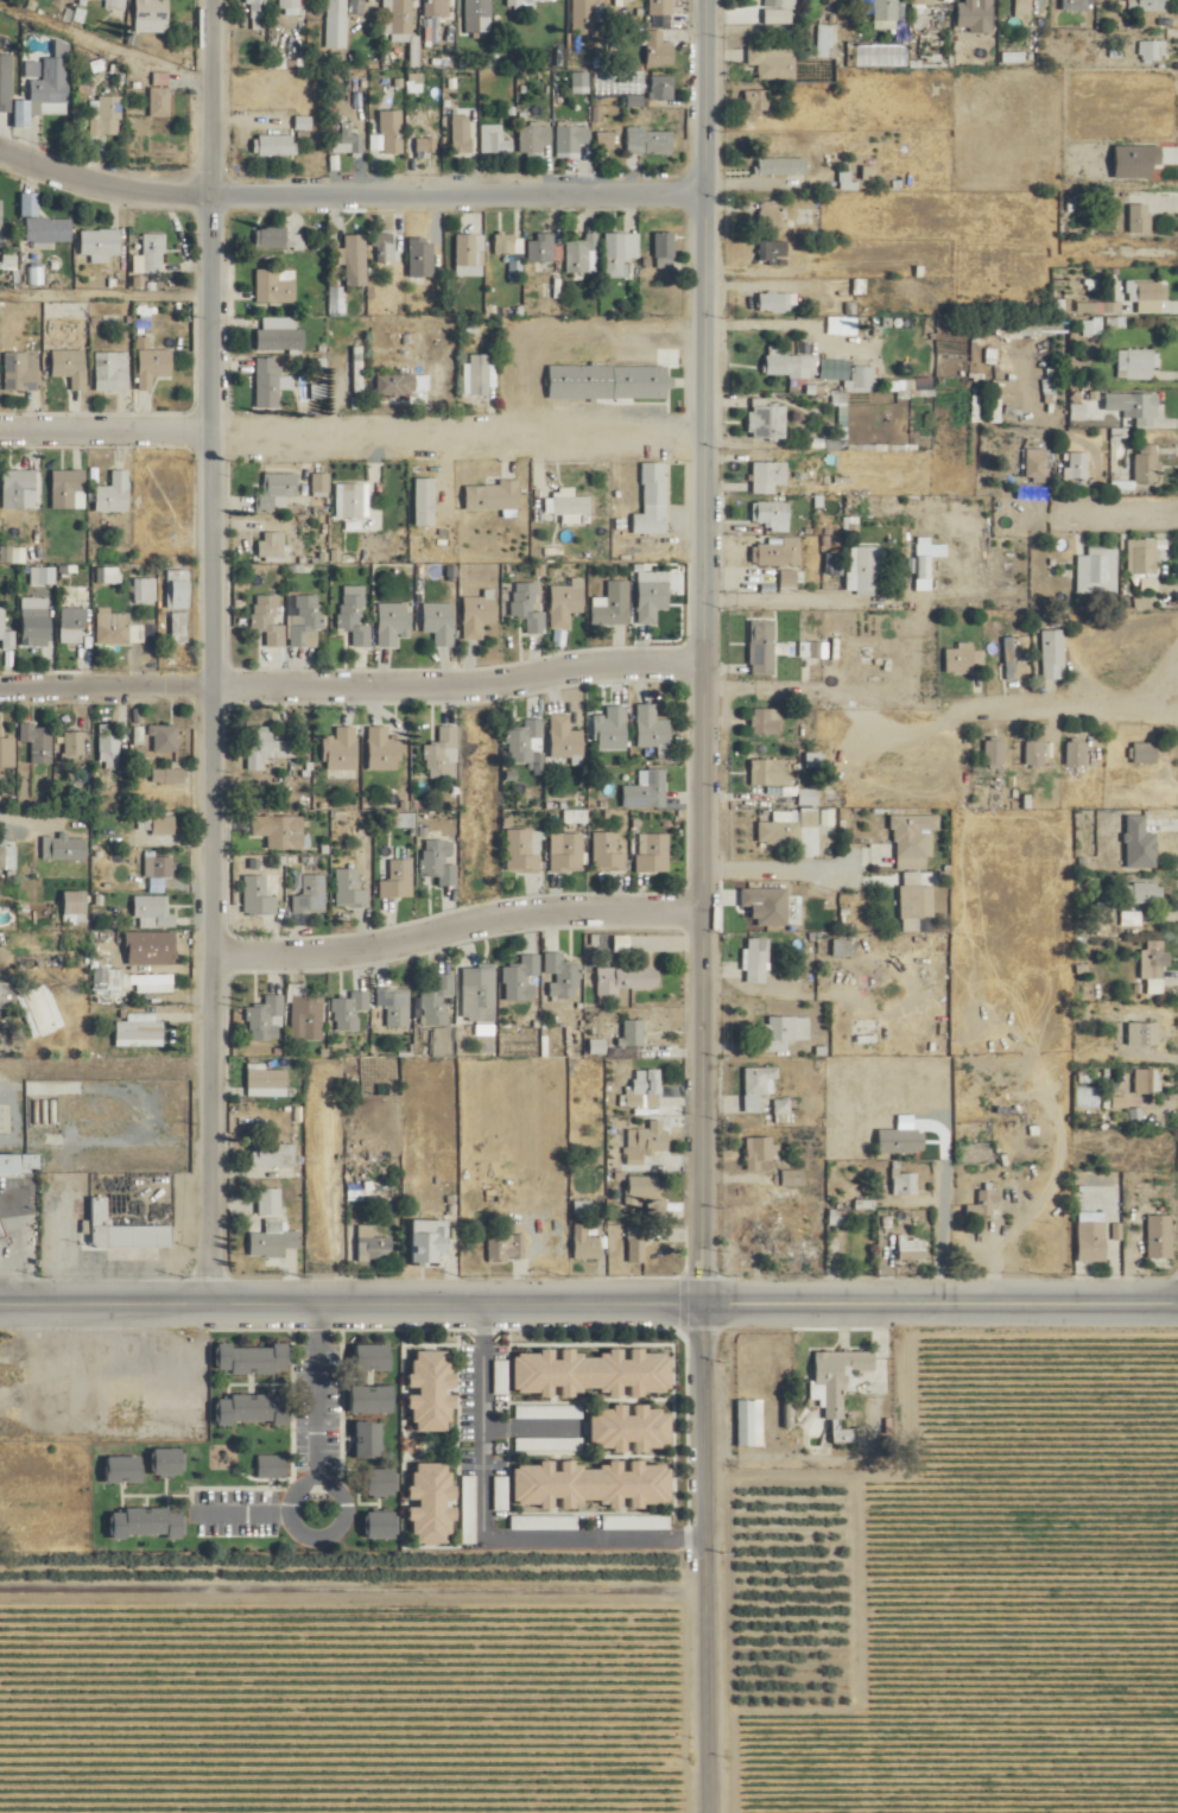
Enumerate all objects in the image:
building: (625, 0)
building: (528, 2)
building: (924, 2)
building: (1024, 2)
building: (780, 4)
building: (108, 5)
building: (1145, 5)
building: (661, 7)
building: (255, 8)
building: (338, 8)
building: (437, 8)
building: (885, 14)
building: (152, 15)
building: (395, 15)
building: (479, 15)
building: (588, 17)
building: (659, 50)
building: (1153, 51)
building: (773, 62)
building: (582, 80)
building: (52, 88)
building: (661, 88)
building: (756, 100)
building: (161, 102)
building: (108, 118)
building: (391, 132)
building: (462, 134)
building: (536, 138)
building: (572, 139)
building: (495, 140)
building: (604, 140)
building: (347, 141)
building: (650, 141)
building: (426, 145)
building: (273, 146)
building: (781, 166)
building: (847, 179)
road: (347, 184)
building: (771, 214)
building: (1, 215)
building: (1140, 218)
building: (50, 229)
building: (280, 239)
building: (505, 243)
building: (101, 245)
building: (541, 247)
building: (384, 248)
building: (665, 249)
building: (773, 253)
building: (470, 254)
building: (583, 254)
building: (152, 255)
building: (615, 255)
building: (420, 256)
building: (355, 260)
building: (277, 286)
building: (1142, 291)
building: (778, 303)
road: (786, 323)
building: (1092, 327)
building: (1019, 331)
building: (280, 335)
building: (790, 362)
building: (1136, 364)
building: (153, 366)
building: (70, 367)
building: (359, 369)
building: (112, 370)
building: (21, 372)
building: (480, 375)
building: (641, 382)
building: (273, 385)
building: (404, 385)
building: (318, 392)
building: (1129, 407)
building: (766, 420)
road: (349, 424)
building: (1035, 464)
building: (1077, 465)
building: (1141, 469)
building: (768, 477)
building: (322, 483)
building: (20, 489)
building: (69, 489)
building: (275, 492)
building: (114, 494)
building: (493, 496)
building: (353, 501)
building: (653, 501)
building: (425, 502)
building: (571, 505)
road: (1114, 509)
building: (771, 515)
building: (272, 546)
building: (778, 552)
building: (1146, 557)
building: (1102, 566)
building: (866, 568)
building: (44, 576)
building: (179, 589)
building: (146, 590)
building: (652, 595)
road: (773, 598)
building: (565, 603)
building: (613, 606)
building: (528, 607)
building: (355, 615)
building: (477, 615)
building: (270, 619)
building: (306, 620)
building: (34, 621)
building: (438, 622)
building: (393, 623)
building: (179, 627)
building: (72, 629)
building: (119, 629)
building: (6, 630)
road: (207, 645)
road: (698, 646)
building: (762, 647)
building: (1053, 654)
building: (1008, 657)
building: (964, 660)
road: (349, 677)
road: (936, 705)
building: (765, 721)
building: (652, 728)
building: (610, 729)
building: (164, 737)
building: (564, 737)
building: (39, 741)
building: (525, 741)
building: (109, 744)
building: (75, 746)
building: (267, 747)
building: (7, 749)
building: (338, 749)
building: (384, 749)
building: (994, 752)
building: (1034, 752)
building: (1145, 752)
building: (443, 754)
building: (1076, 754)
building: (768, 772)
building: (169, 775)
building: (646, 790)
building: (807, 795)
building: (157, 825)
road: (30, 829)
building: (277, 830)
building: (778, 833)
building: (913, 841)
building: (524, 850)
building: (653, 852)
building: (569, 854)
building: (607, 854)
building: (8, 856)
building: (441, 862)
building: (161, 867)
road: (774, 867)
building: (399, 880)
building: (350, 890)
building: (1145, 893)
building: (311, 895)
building: (259, 896)
building: (917, 902)
building: (72, 904)
building: (153, 913)
road: (451, 915)
building: (148, 943)
building: (758, 961)
building: (1153, 974)
building: (563, 977)
building: (522, 978)
building: (150, 980)
building: (625, 980)
building: (480, 993)
building: (6, 994)
building: (438, 1000)
building: (395, 1006)
building: (40, 1010)
building: (350, 1010)
building: (308, 1018)
building: (267, 1020)
building: (139, 1029)
building: (787, 1031)
building: (634, 1033)
building: (1142, 1034)
building: (266, 1080)
building: (1147, 1080)
building: (759, 1085)
building: (645, 1089)
building: (784, 1105)
building: (652, 1137)
building: (900, 1140)
building: (760, 1150)
building: (274, 1154)
building: (20, 1162)
building: (794, 1177)
building: (905, 1183)
building: (375, 1186)
building: (642, 1187)
building: (270, 1202)
building: (984, 1203)
building: (126, 1230)
building: (758, 1235)
building: (1091, 1236)
building: (1160, 1236)
building: (425, 1241)
building: (273, 1242)
building: (372, 1243)
building: (584, 1243)
building: (508, 1247)
building: (912, 1247)
building: (636, 1248)
building: (796, 1251)
road: (588, 1293)
building: (369, 1358)
building: (248, 1359)
building: (589, 1373)
building: (14, 1375)
road: (324, 1387)
building: (429, 1390)
building: (836, 1396)
building: (368, 1399)
building: (127, 1403)
building: (249, 1409)
building: (750, 1424)
building: (627, 1428)
building: (366, 1440)
building: (164, 1462)
building: (272, 1467)
building: (121, 1470)
building: (378, 1482)
building: (589, 1484)
building: (429, 1503)
road: (251, 1509)
road: (488, 1519)
building: (142, 1523)
building: (378, 1526)
road: (337, 1528)
road: (702, 1552)
crop: (698, 1646)

